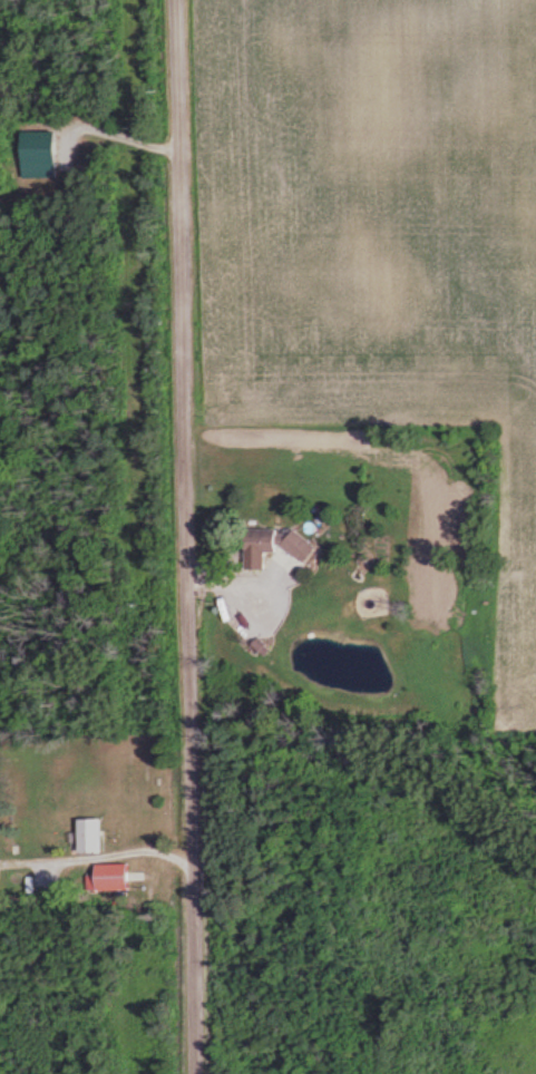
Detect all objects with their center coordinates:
building: (253, 534)
road: (183, 536)
building: (81, 834)
building: (101, 875)

